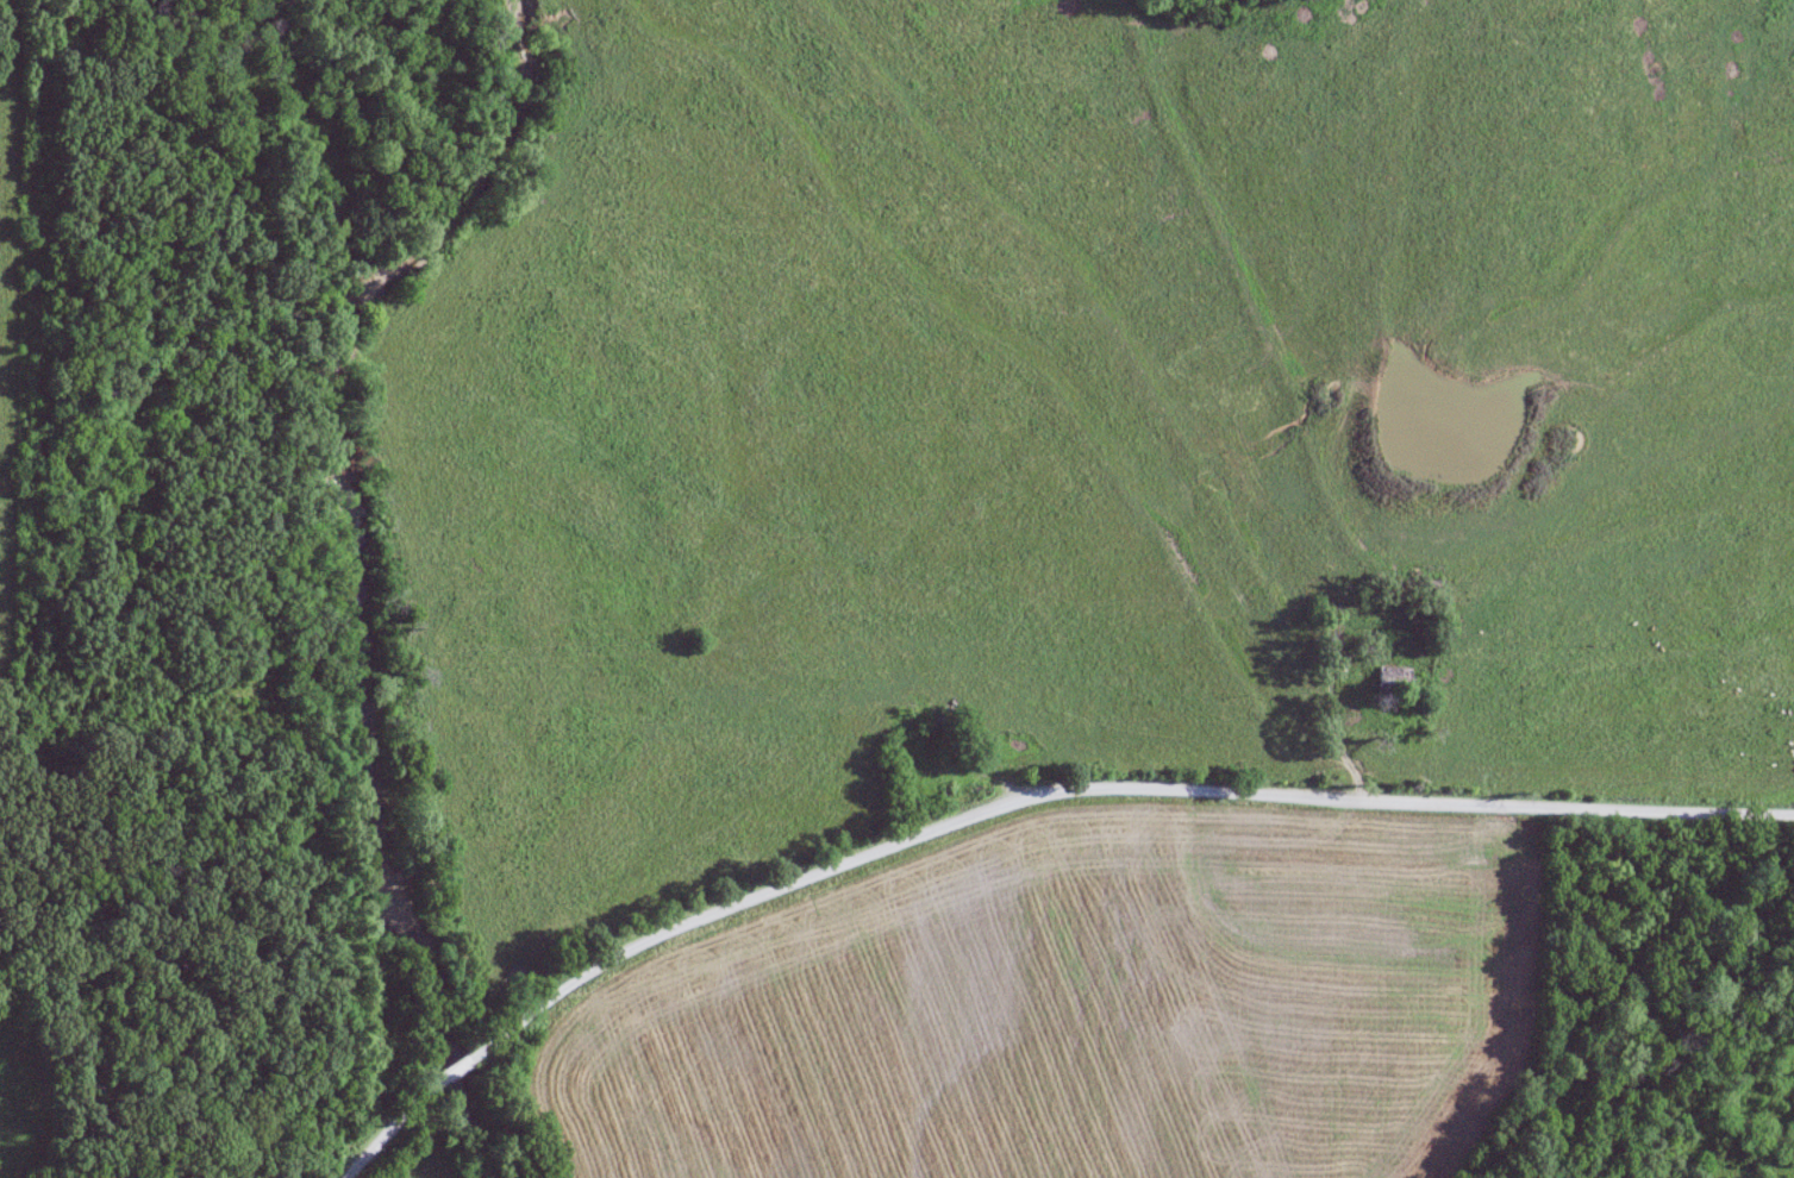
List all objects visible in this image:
building: (1392, 678)
road: (1015, 800)

